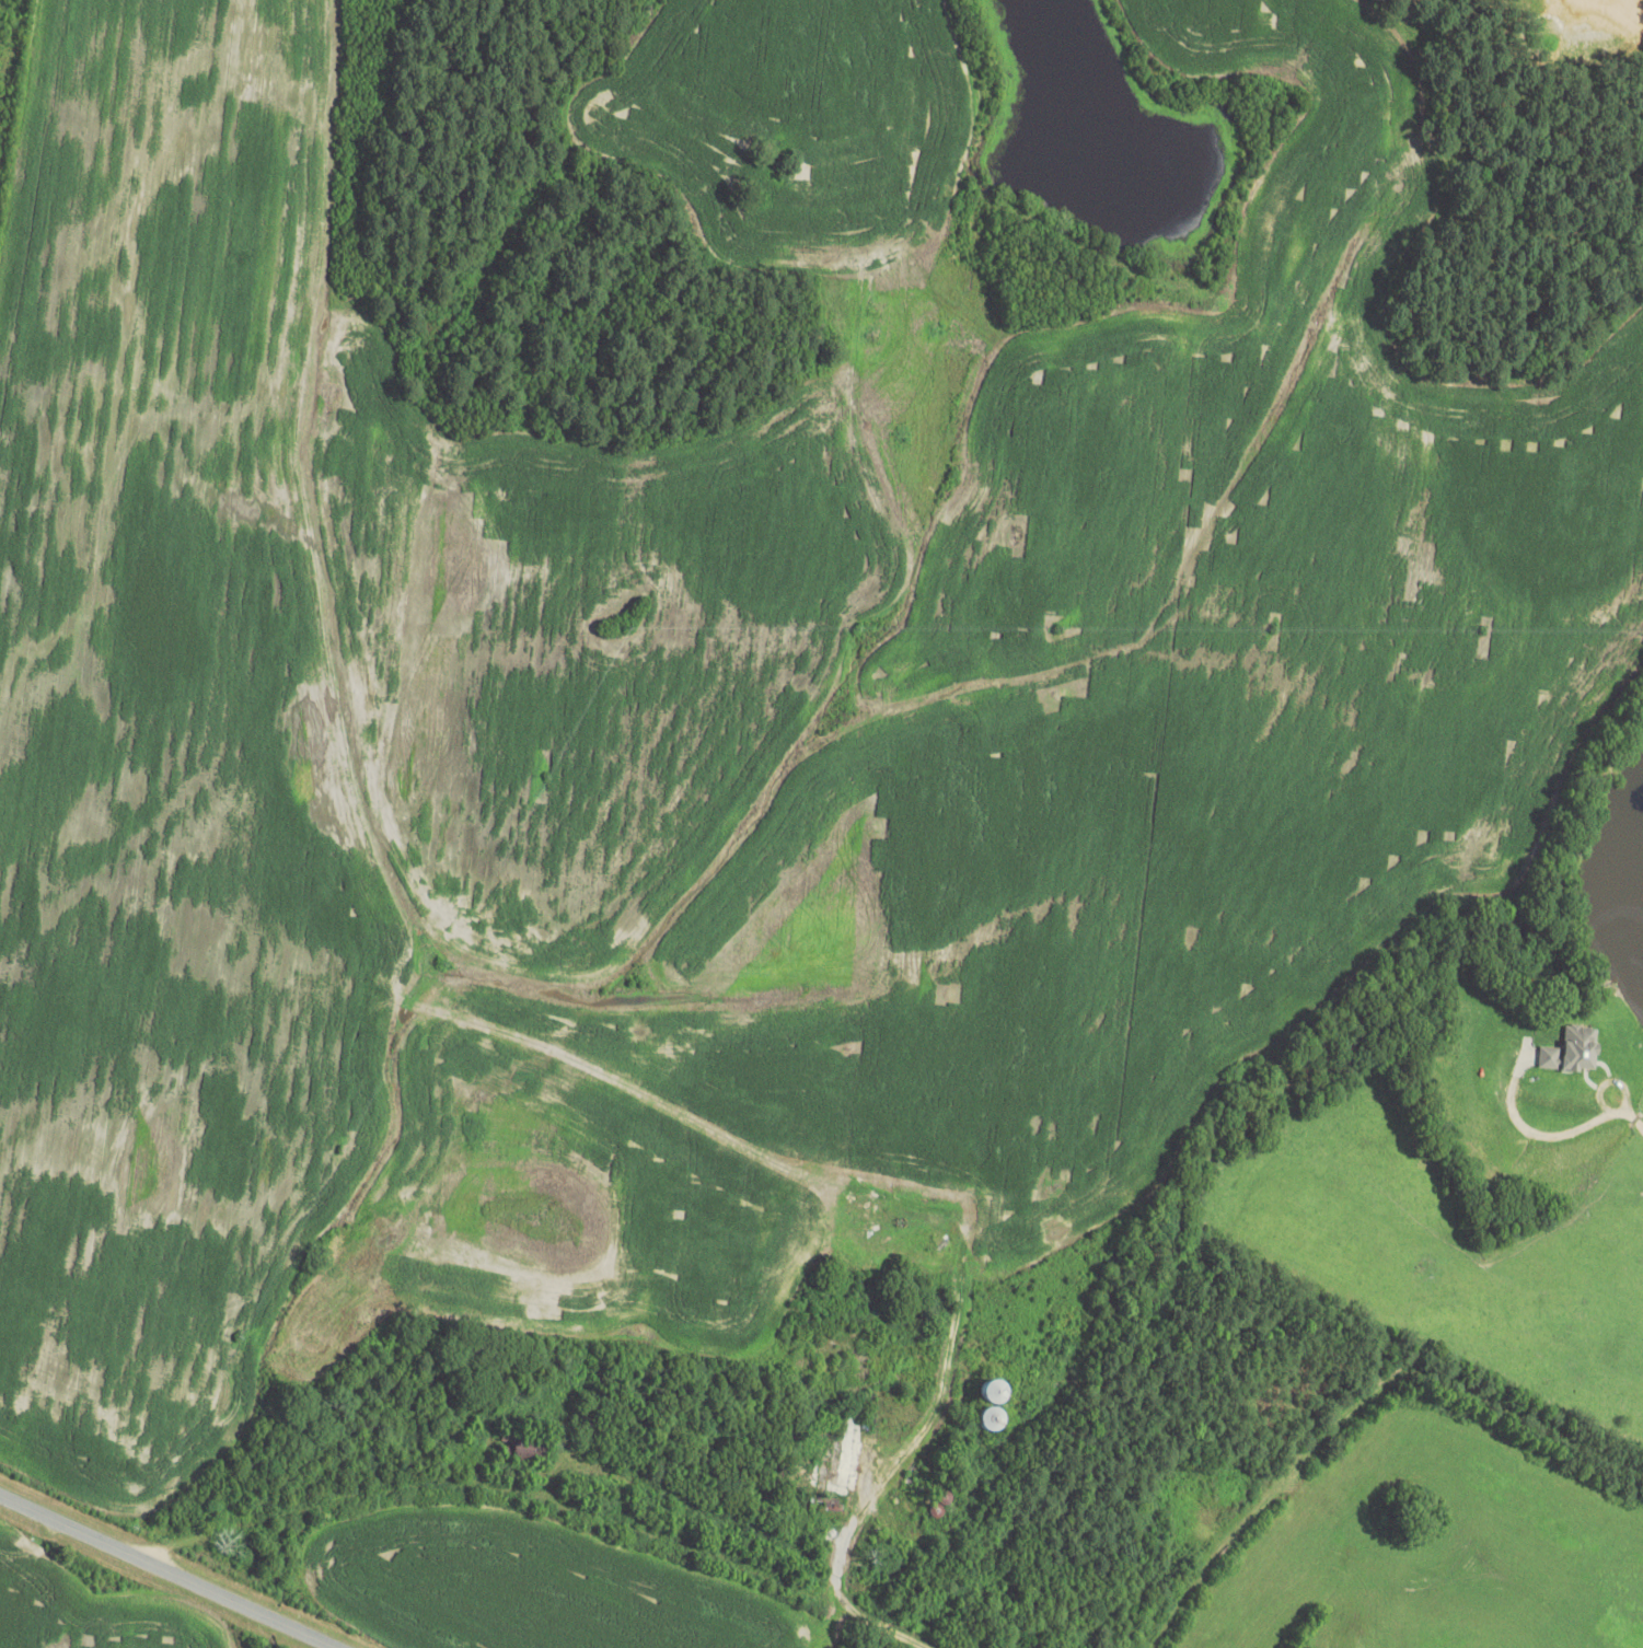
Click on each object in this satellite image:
building: (1572, 1049)
building: (990, 1417)
building: (529, 1448)
road: (171, 1572)

